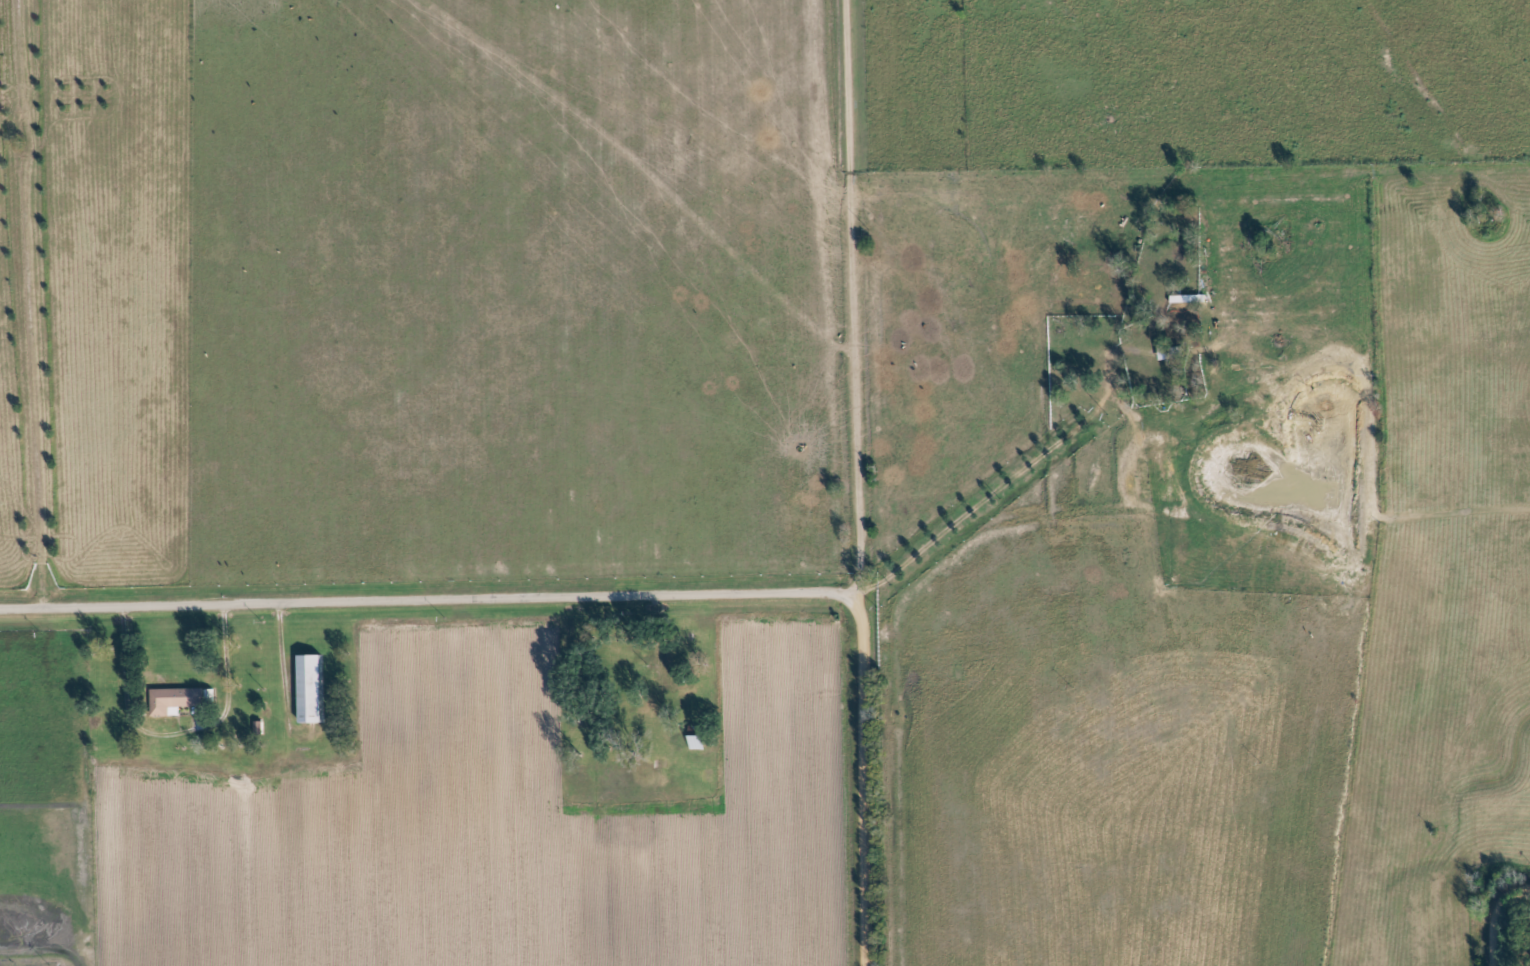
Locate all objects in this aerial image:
road: (854, 300)
road: (996, 473)
road: (612, 593)
road: (227, 653)
building: (312, 689)
building: (175, 701)
road: (1496, 917)

